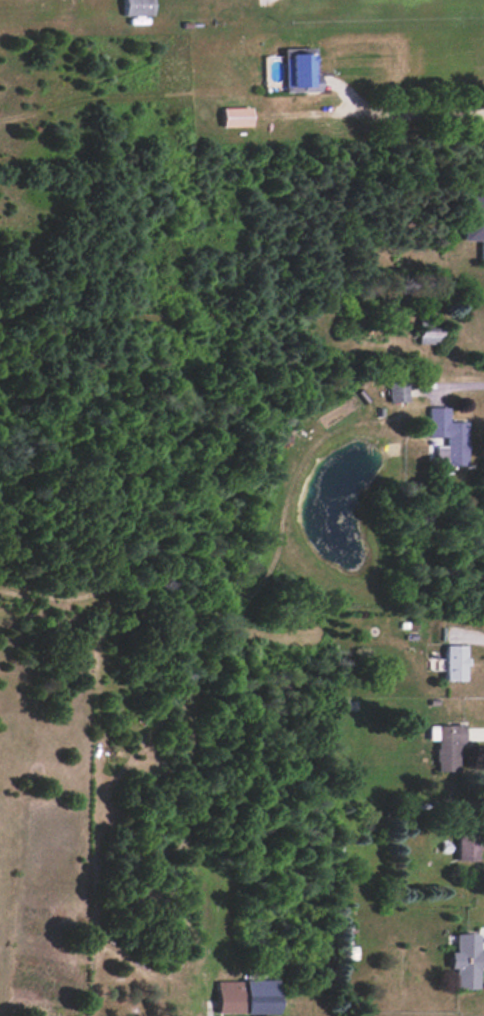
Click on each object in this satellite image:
building: (136, 7)
building: (296, 71)
road: (401, 115)
building: (235, 116)
building: (473, 221)
building: (426, 334)
road: (459, 388)
building: (396, 391)
building: (447, 437)
building: (451, 662)
building: (444, 745)
building: (468, 845)
building: (464, 960)
building: (246, 996)
road: (206, 1013)

